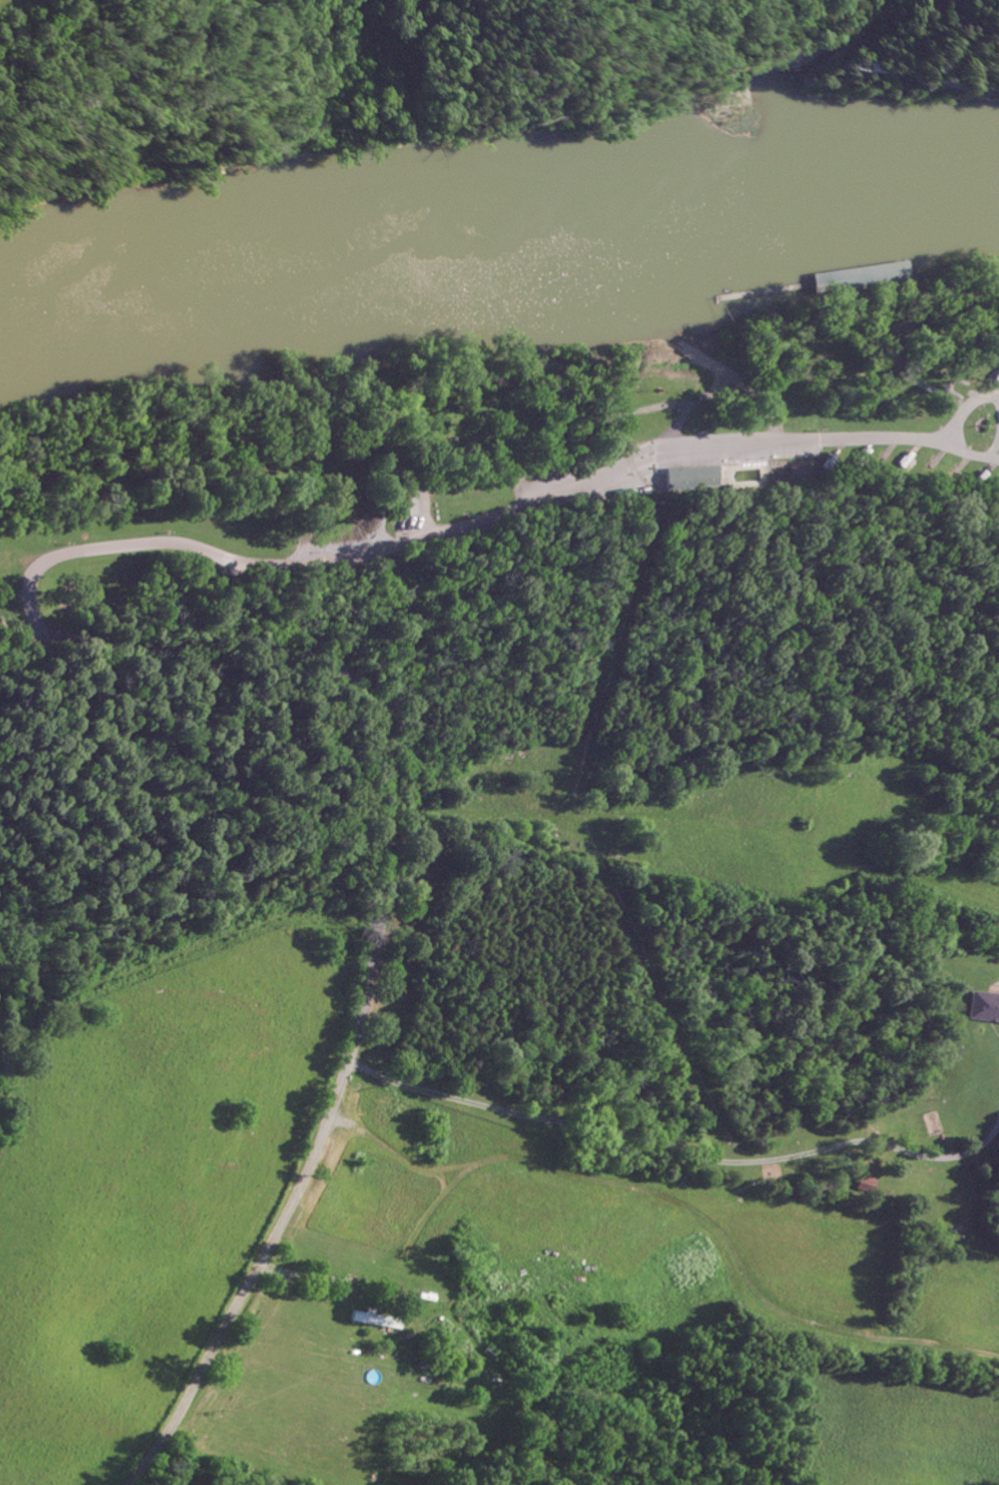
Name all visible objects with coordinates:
river: (499, 257)
building: (858, 278)
road: (965, 405)
road: (968, 454)
building: (691, 478)
building: (404, 503)
road: (456, 522)
road: (16, 638)
road: (370, 941)
building: (982, 1006)
road: (676, 1145)
building: (374, 1319)

